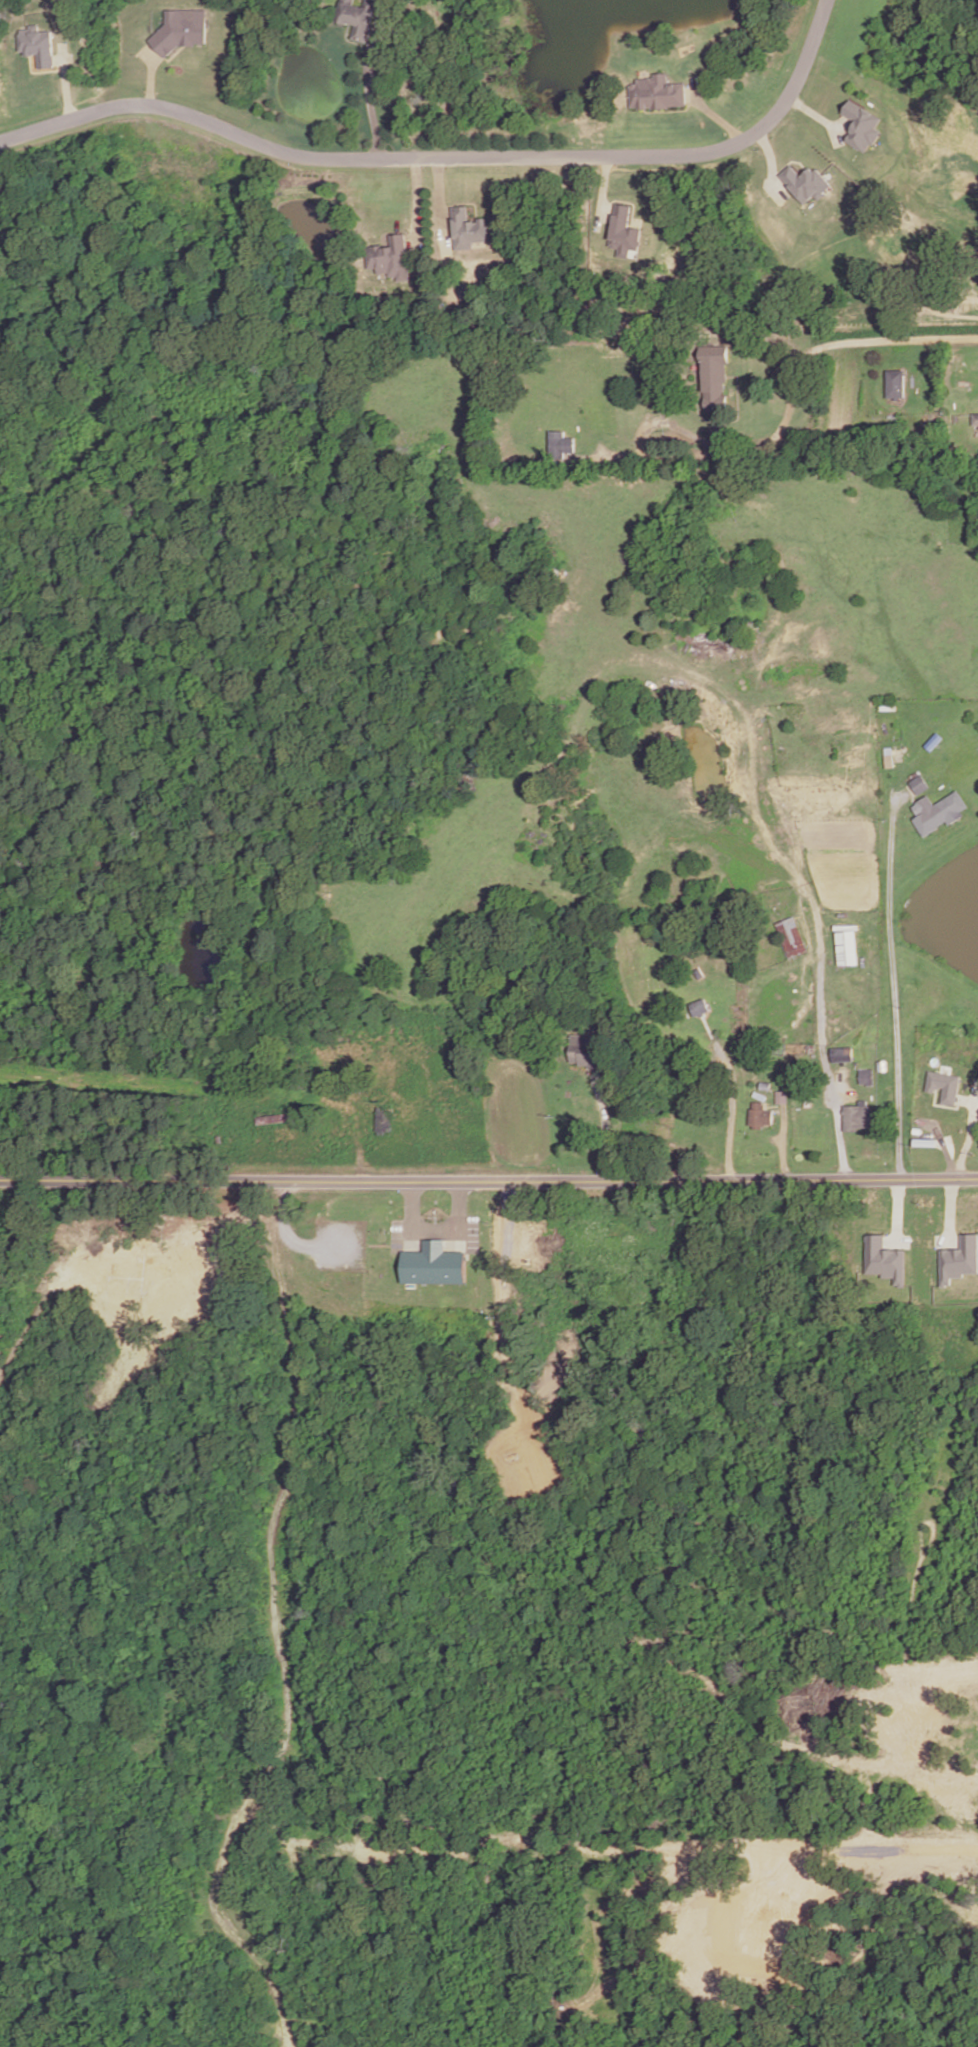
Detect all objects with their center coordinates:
building: (358, 18)
building: (182, 29)
building: (38, 44)
building: (659, 95)
road: (368, 102)
road: (672, 112)
road: (714, 115)
building: (861, 125)
road: (449, 158)
building: (805, 182)
road: (438, 194)
road: (415, 205)
building: (625, 230)
building: (469, 232)
building: (391, 260)
road: (918, 359)
building: (706, 374)
building: (890, 385)
road: (788, 397)
building: (972, 421)
building: (559, 445)
building: (884, 757)
building: (914, 784)
building: (933, 812)
building: (786, 937)
building: (841, 948)
road: (890, 984)
building: (699, 1009)
building: (585, 1050)
building: (838, 1055)
road: (823, 1063)
building: (877, 1066)
building: (862, 1077)
building: (789, 1085)
building: (945, 1085)
building: (764, 1087)
building: (780, 1097)
building: (939, 1100)
road: (730, 1107)
building: (759, 1116)
building: (852, 1117)
building: (385, 1123)
road: (604, 1127)
road: (782, 1142)
road: (939, 1145)
road: (489, 1182)
building: (959, 1259)
building: (885, 1260)
building: (434, 1264)

